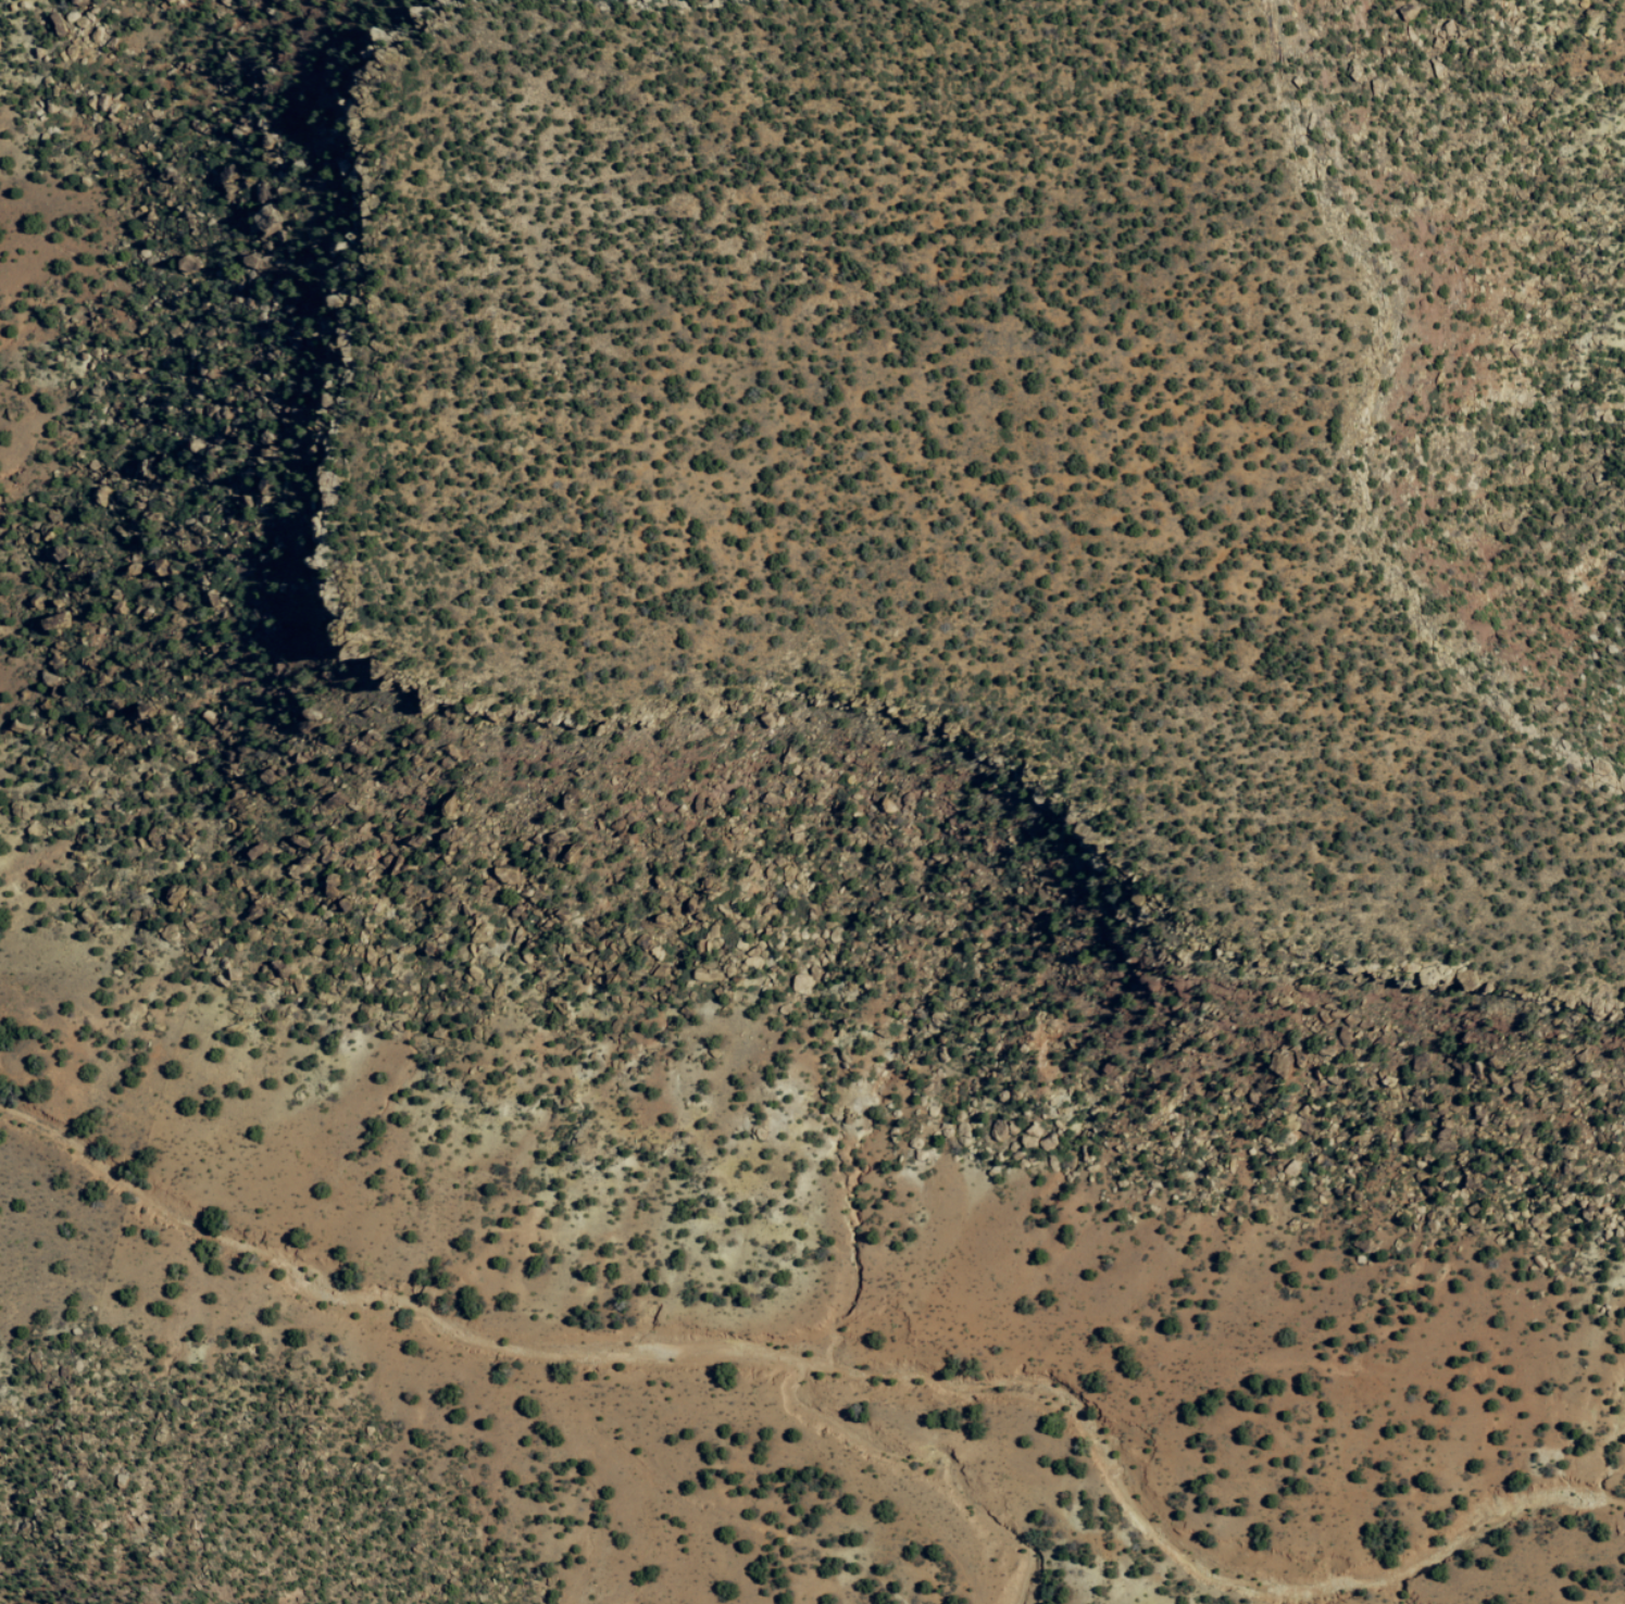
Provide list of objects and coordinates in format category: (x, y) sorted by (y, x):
road: (473, 1386)

